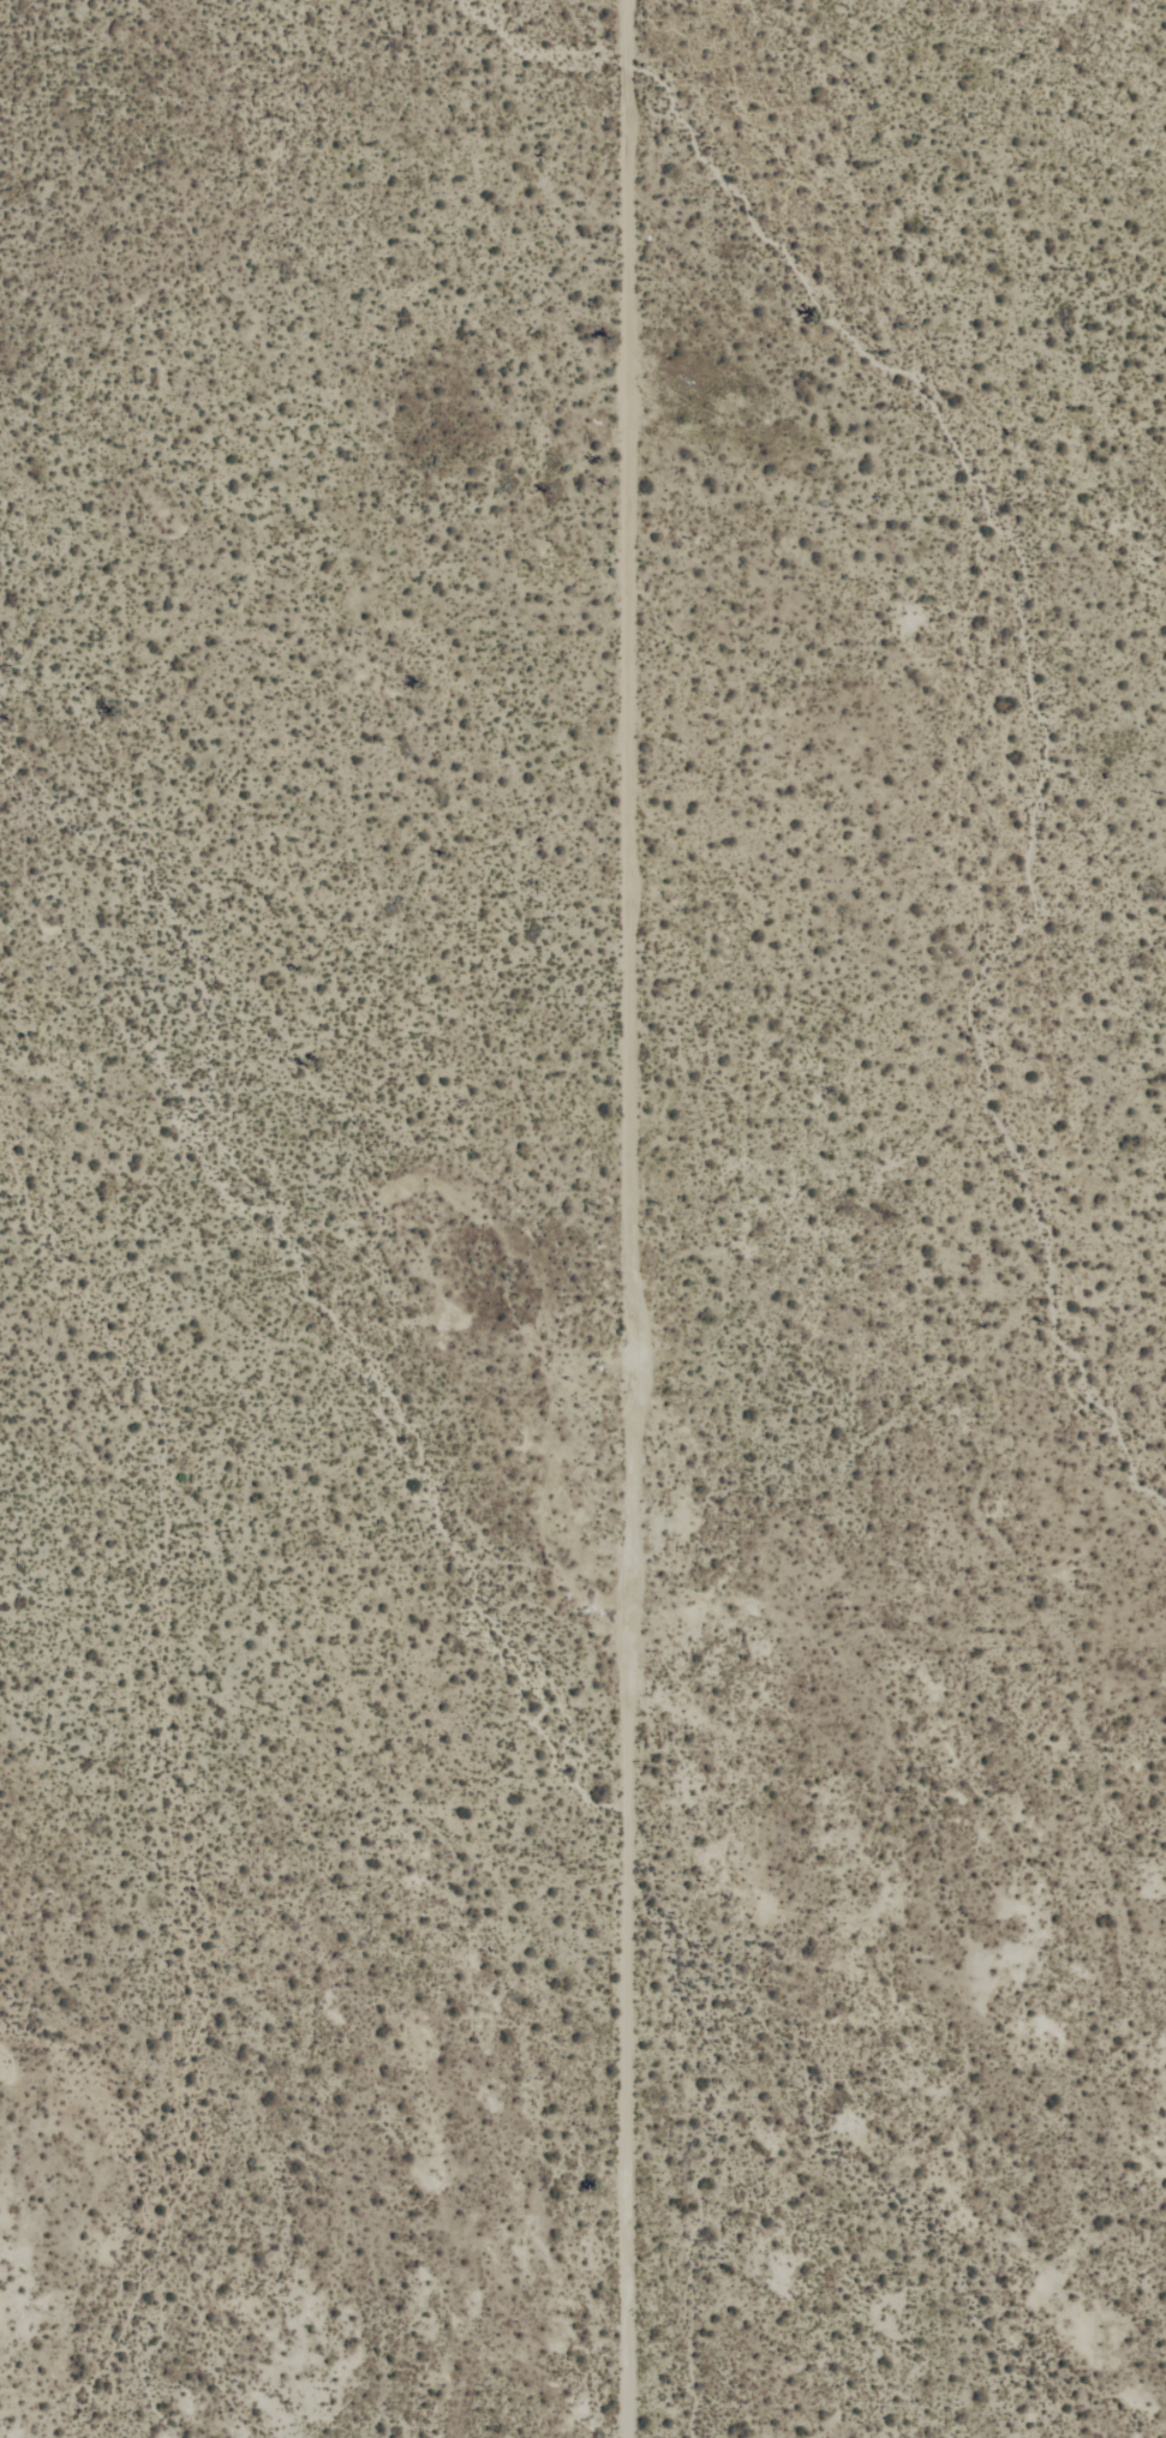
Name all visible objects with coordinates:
road: (638, 1218)

